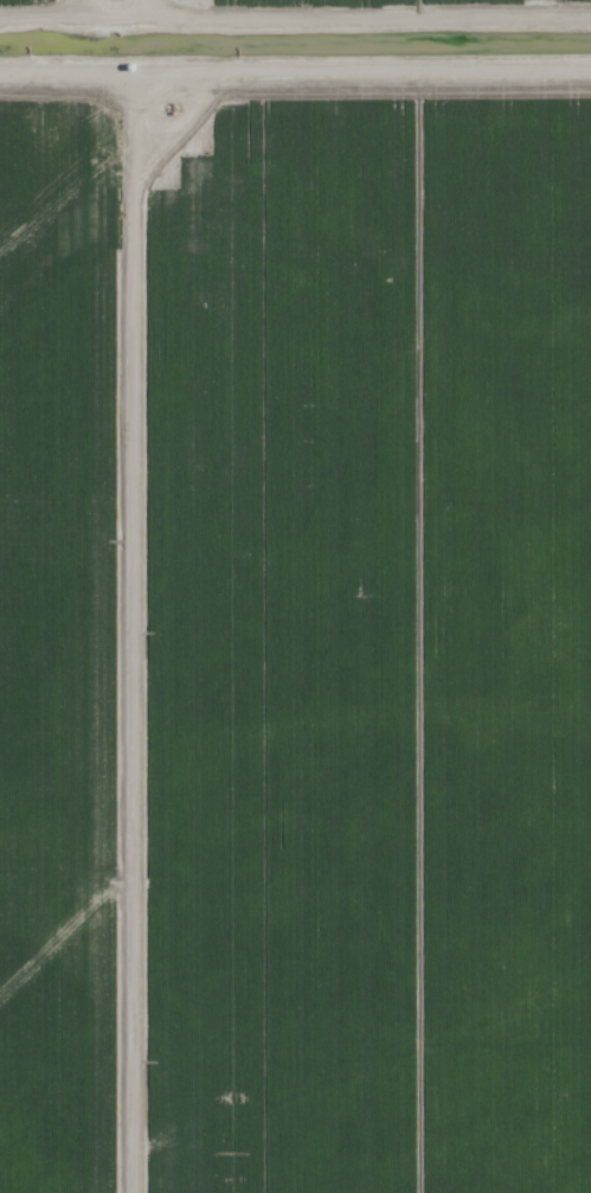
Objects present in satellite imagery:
road: (134, 8)
road: (295, 69)
road: (135, 630)

